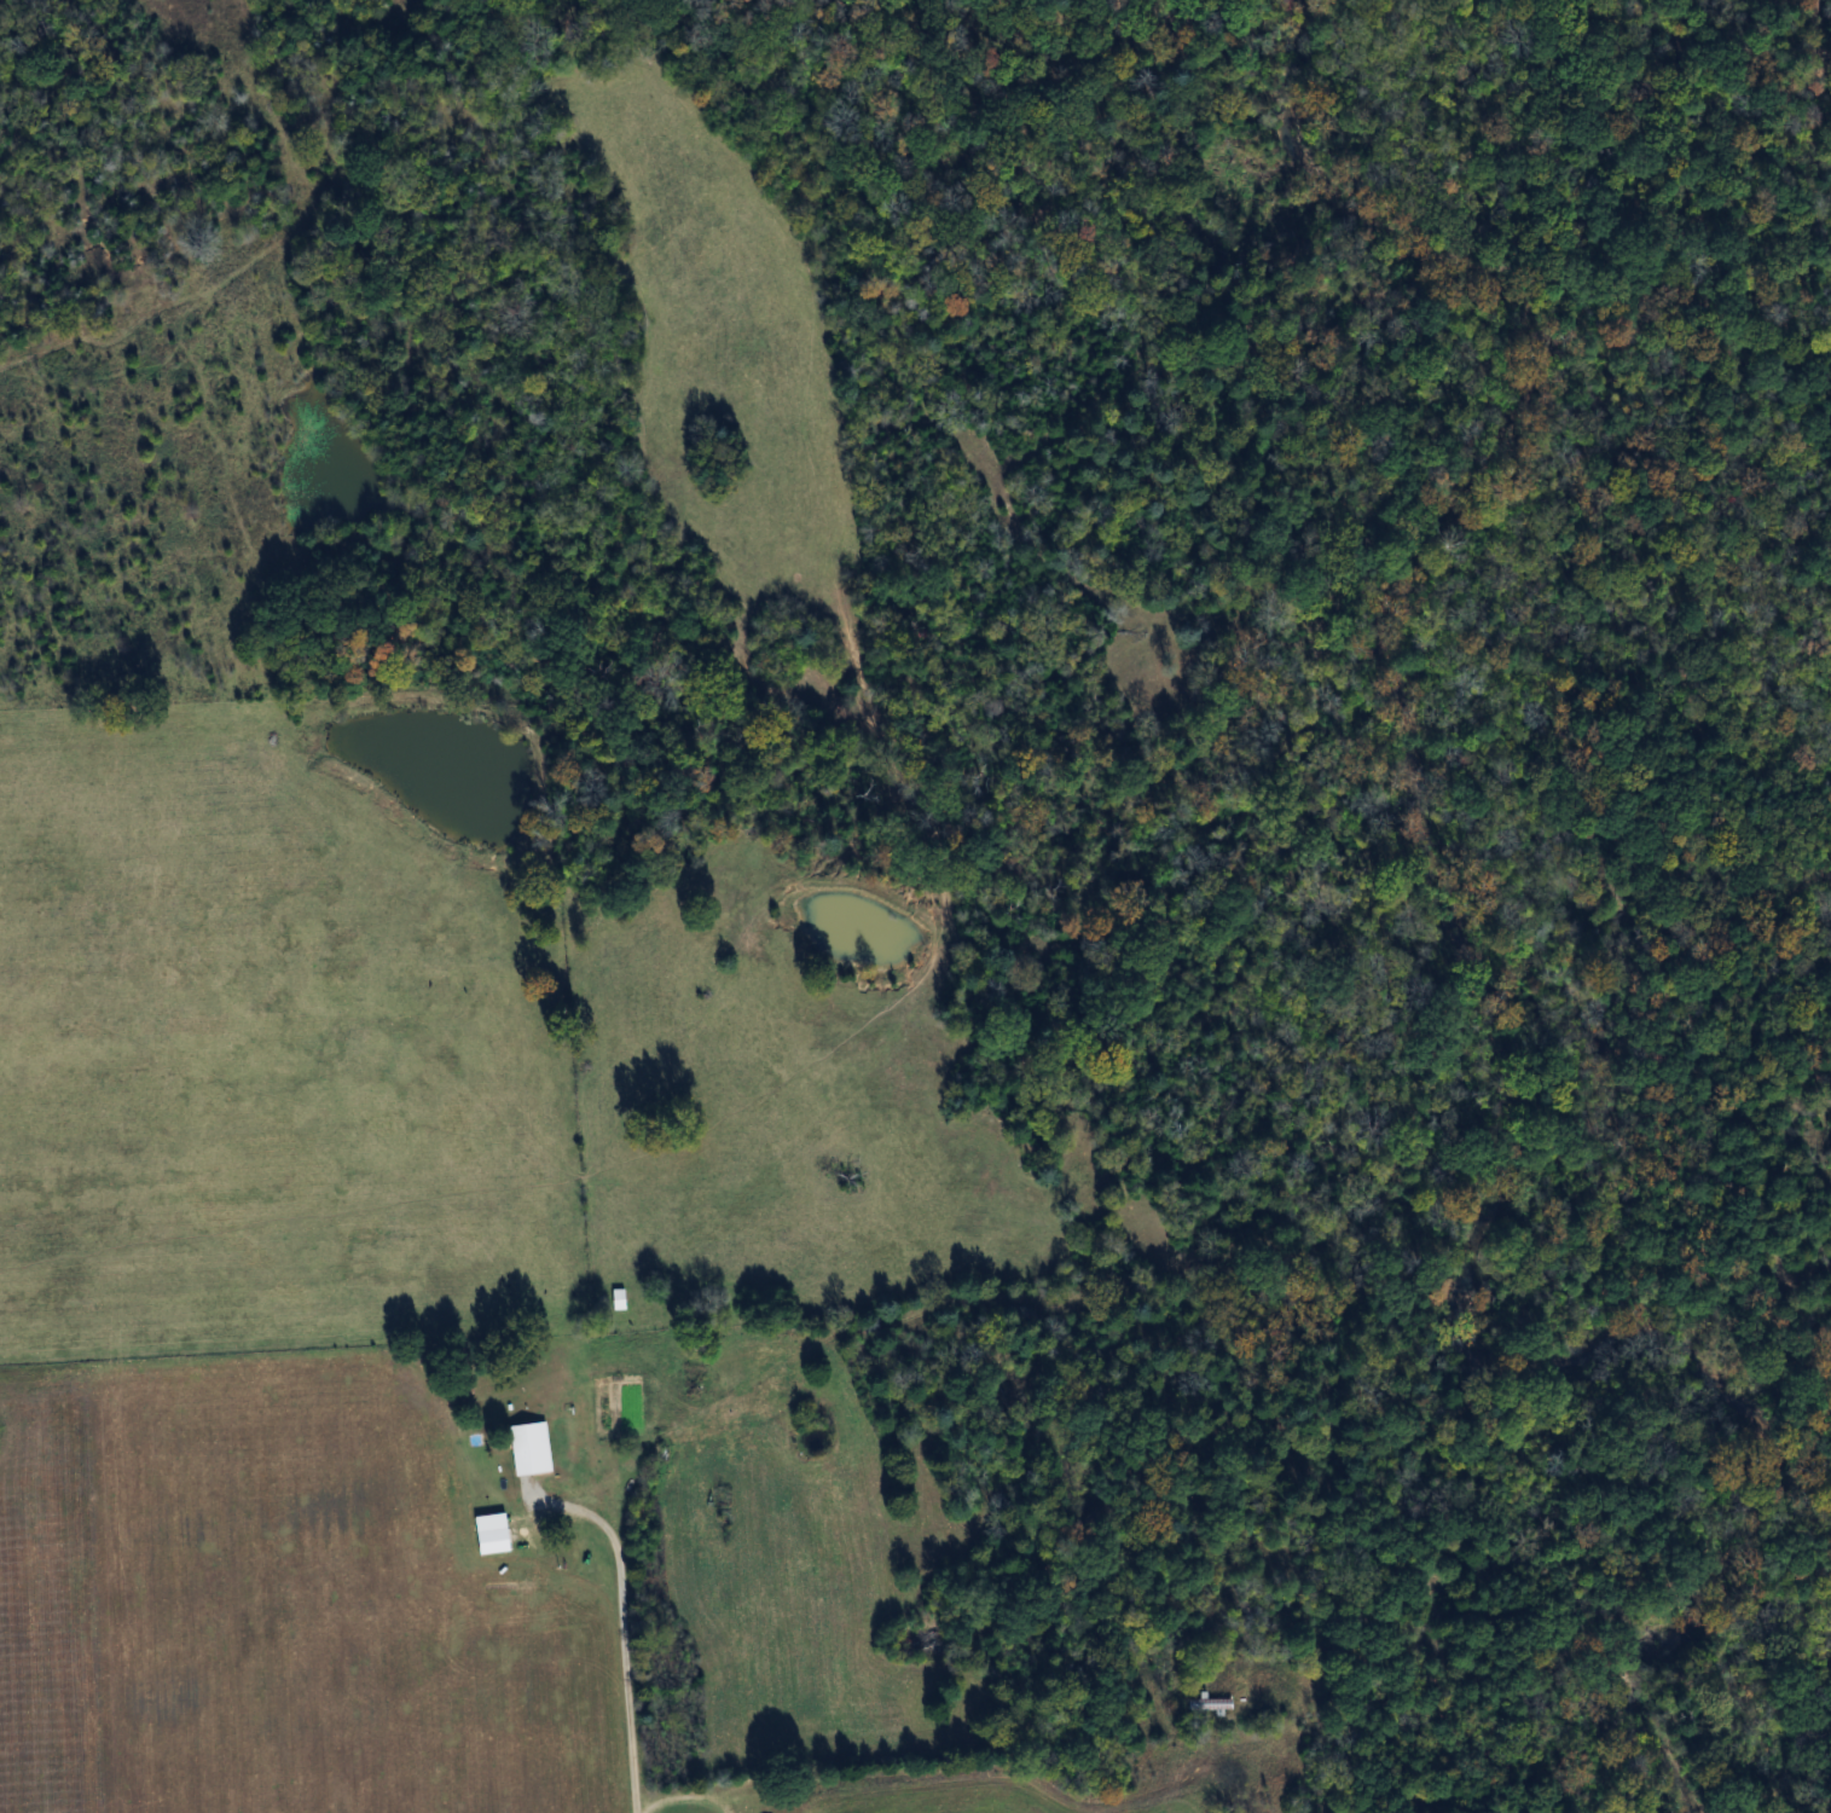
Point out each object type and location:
building: (615, 1302)
building: (599, 1392)
building: (527, 1452)
road: (619, 1663)
building: (1209, 1707)
road: (898, 1783)
road: (1160, 1792)

